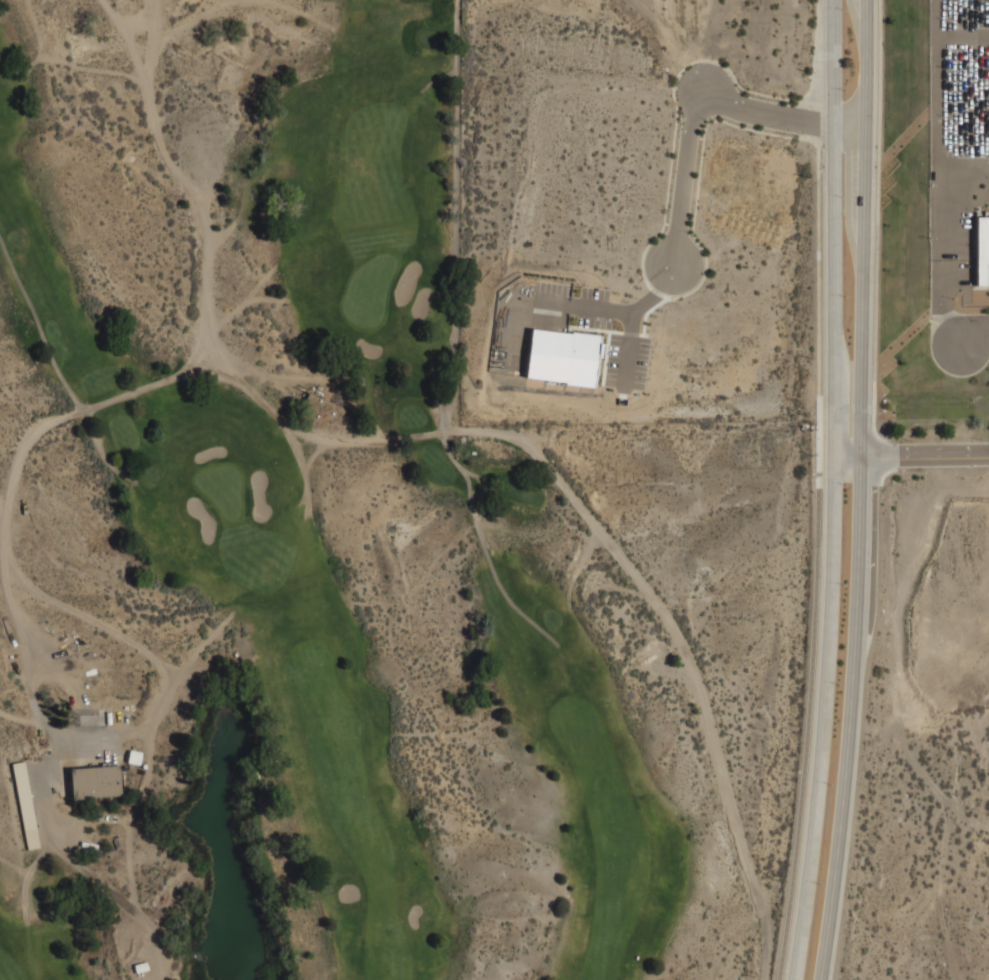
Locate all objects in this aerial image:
road: (456, 52)
road: (695, 95)
parking lot: (957, 126)
building: (982, 251)
parking lot: (955, 286)
road: (611, 308)
road: (970, 330)
road: (628, 348)
building: (560, 355)
road: (56, 367)
road: (911, 455)
road: (833, 490)
road: (861, 490)
park: (347, 551)
road: (808, 706)
building: (95, 781)

